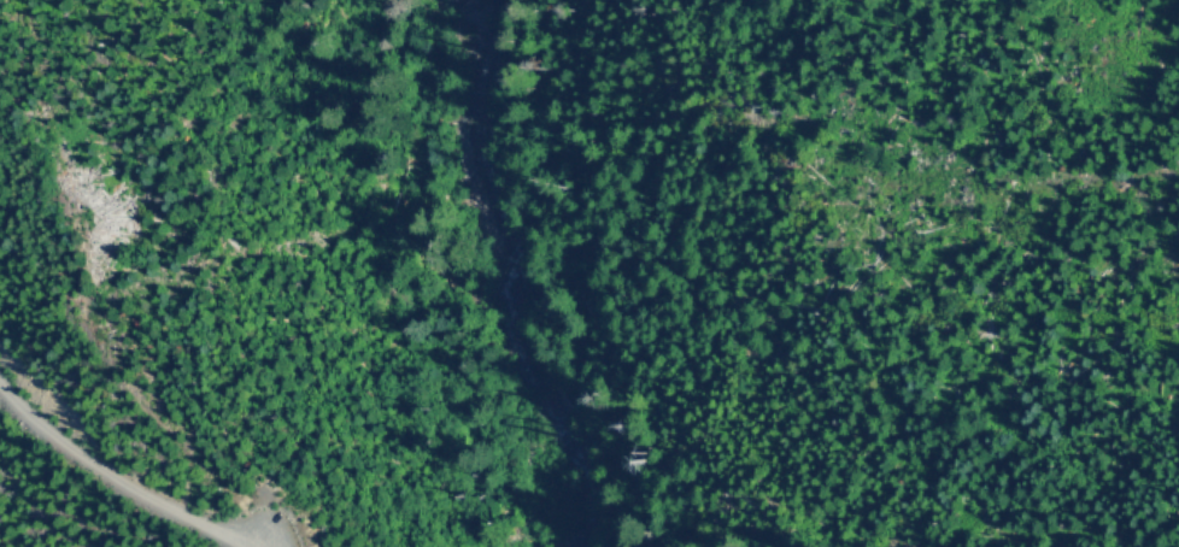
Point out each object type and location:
road: (113, 475)
parking lot: (259, 525)

